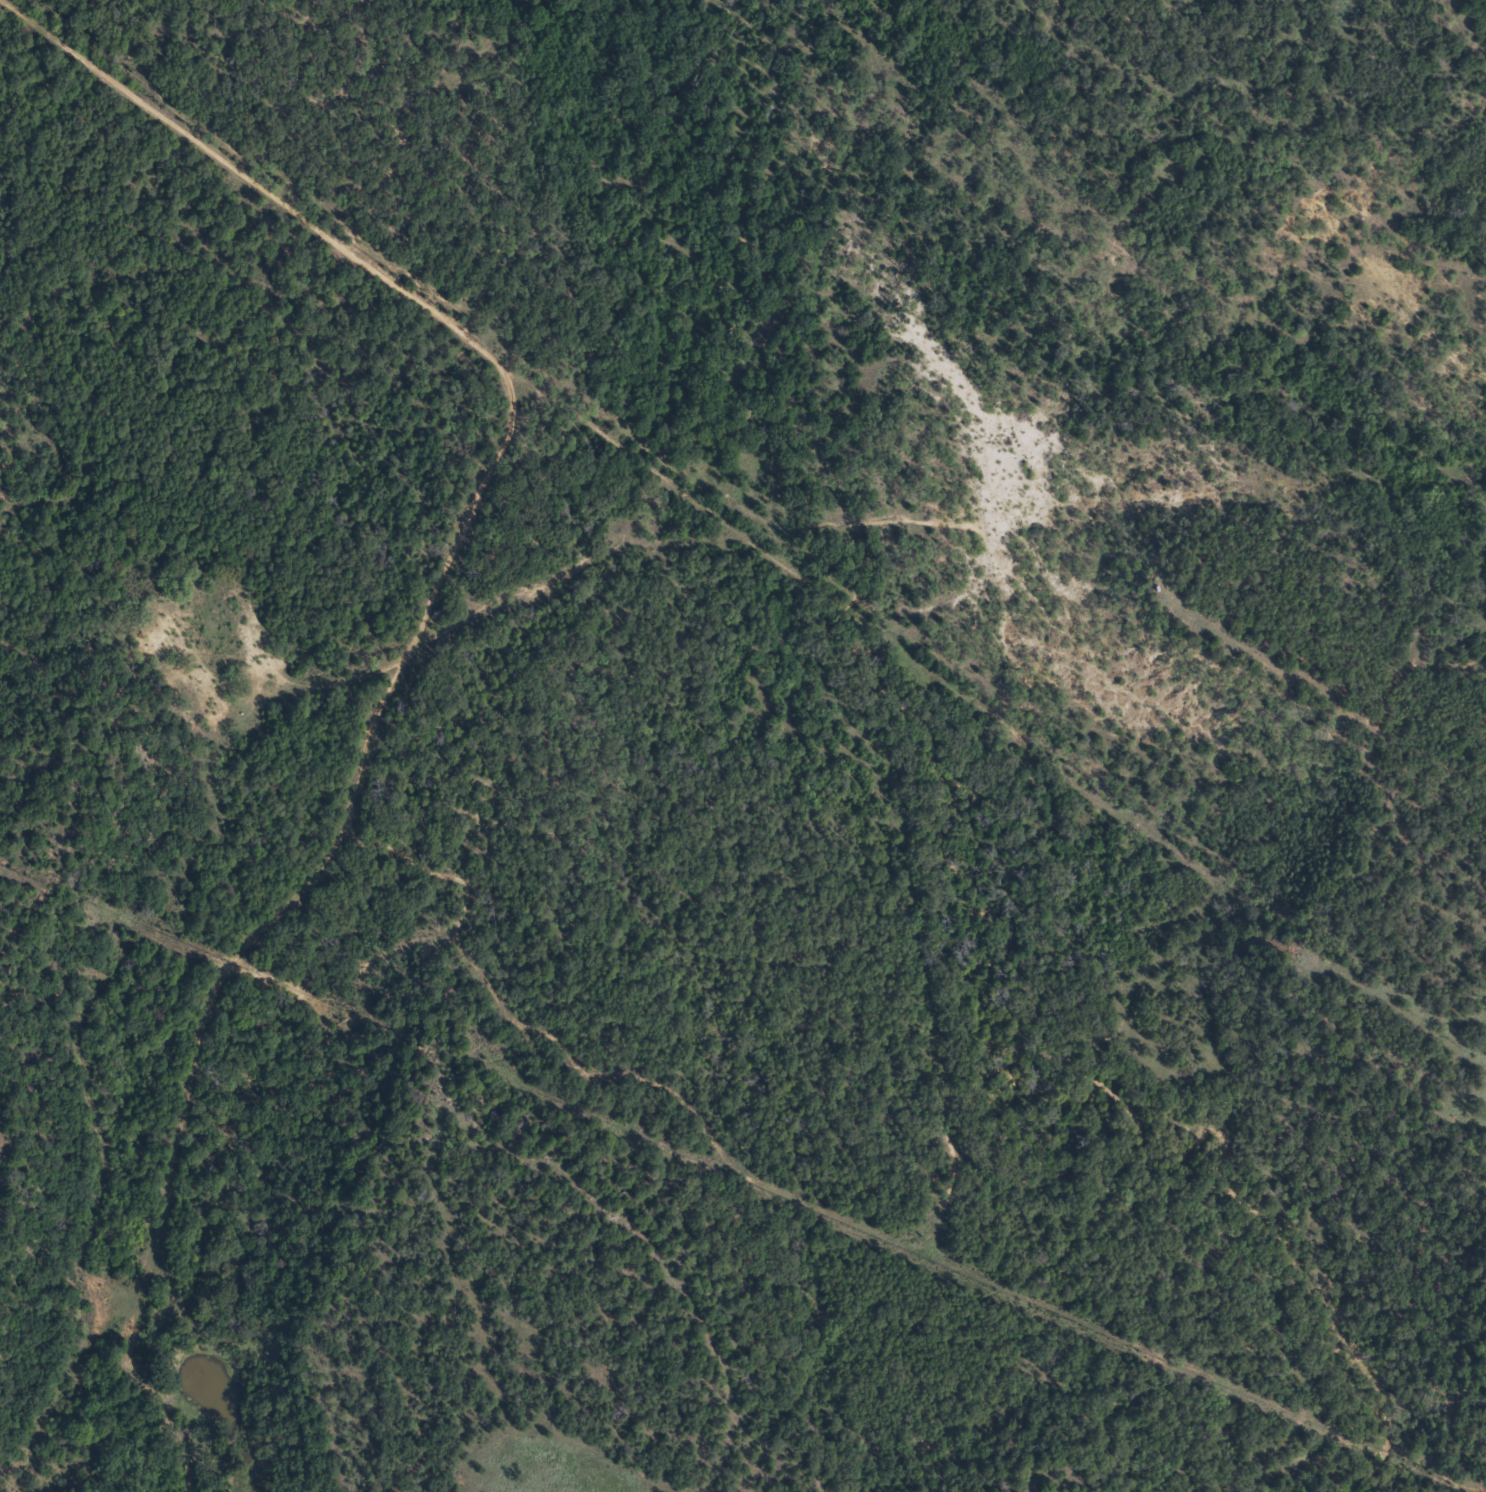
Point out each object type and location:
road: (448, 581)
road: (357, 682)

